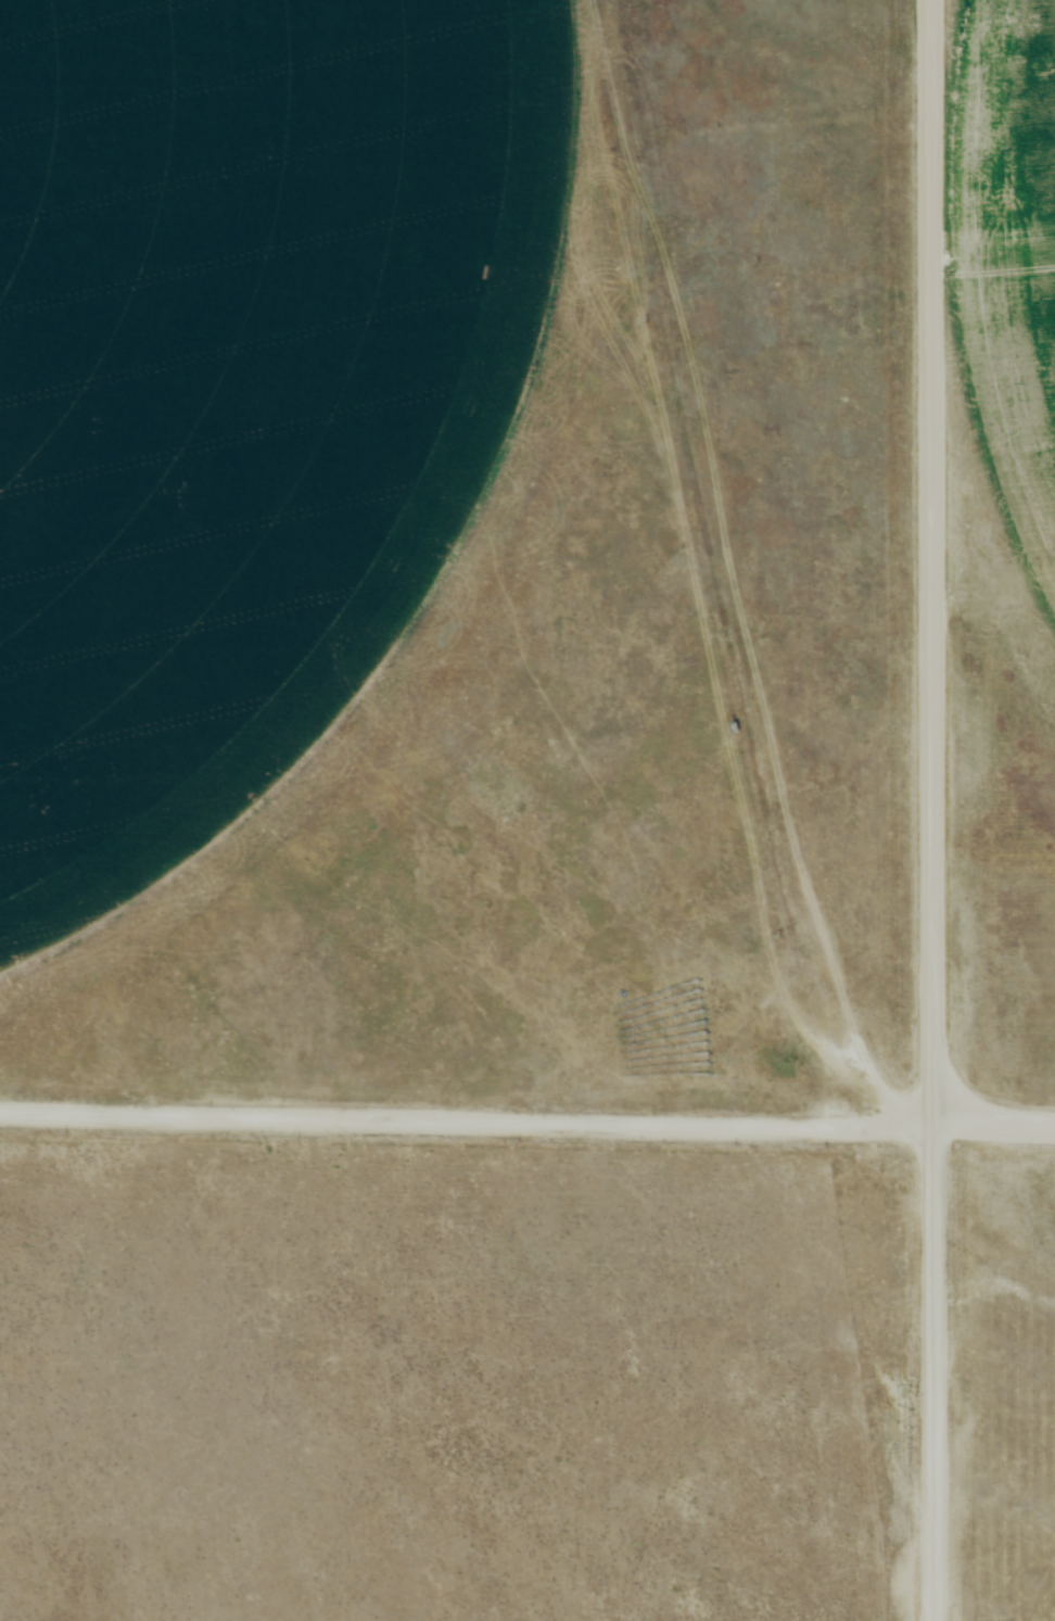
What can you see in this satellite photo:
crop: (1010, 245)
crop: (239, 385)
road: (930, 565)
road: (466, 1125)
road: (993, 1131)
road: (932, 1376)

